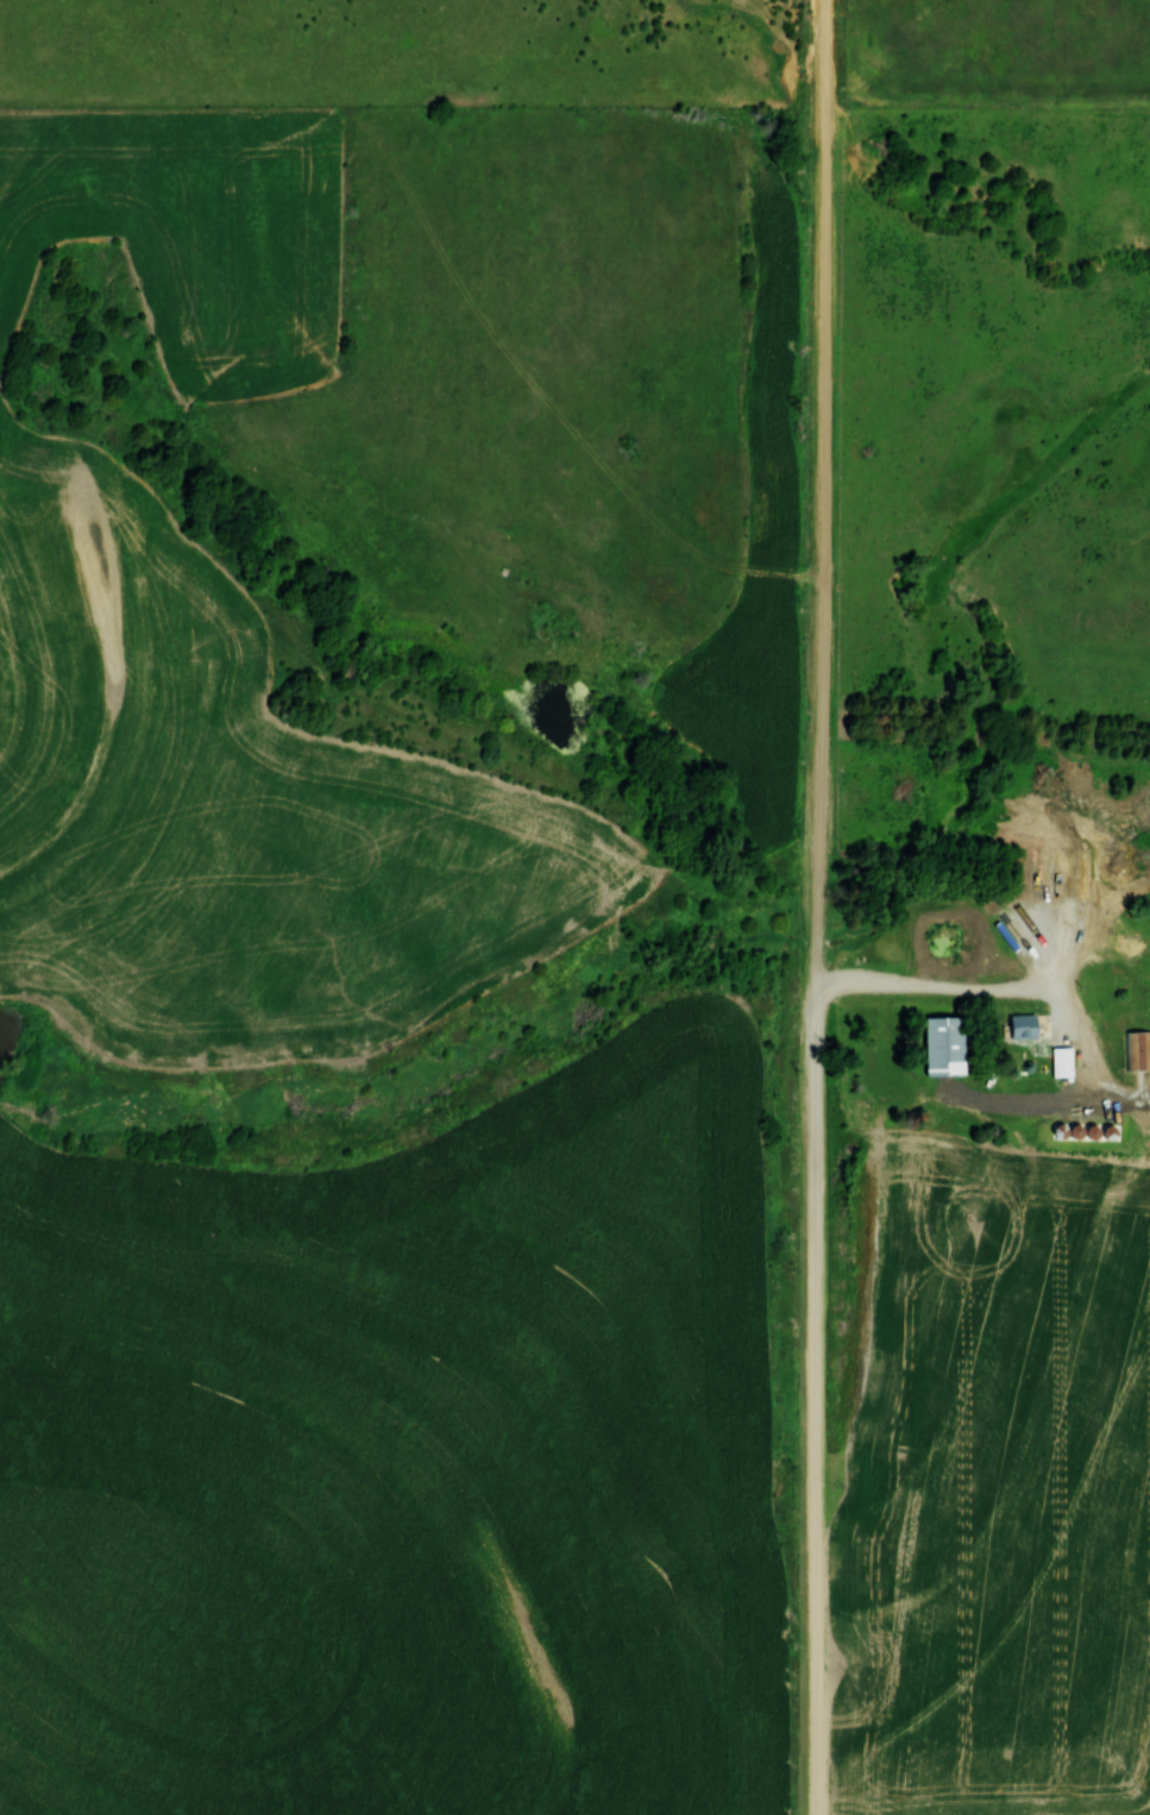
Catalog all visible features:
building: (1067, 871)
road: (824, 906)
road: (947, 994)
building: (1020, 1025)
building: (941, 1044)
building: (1137, 1049)
building: (1060, 1061)

